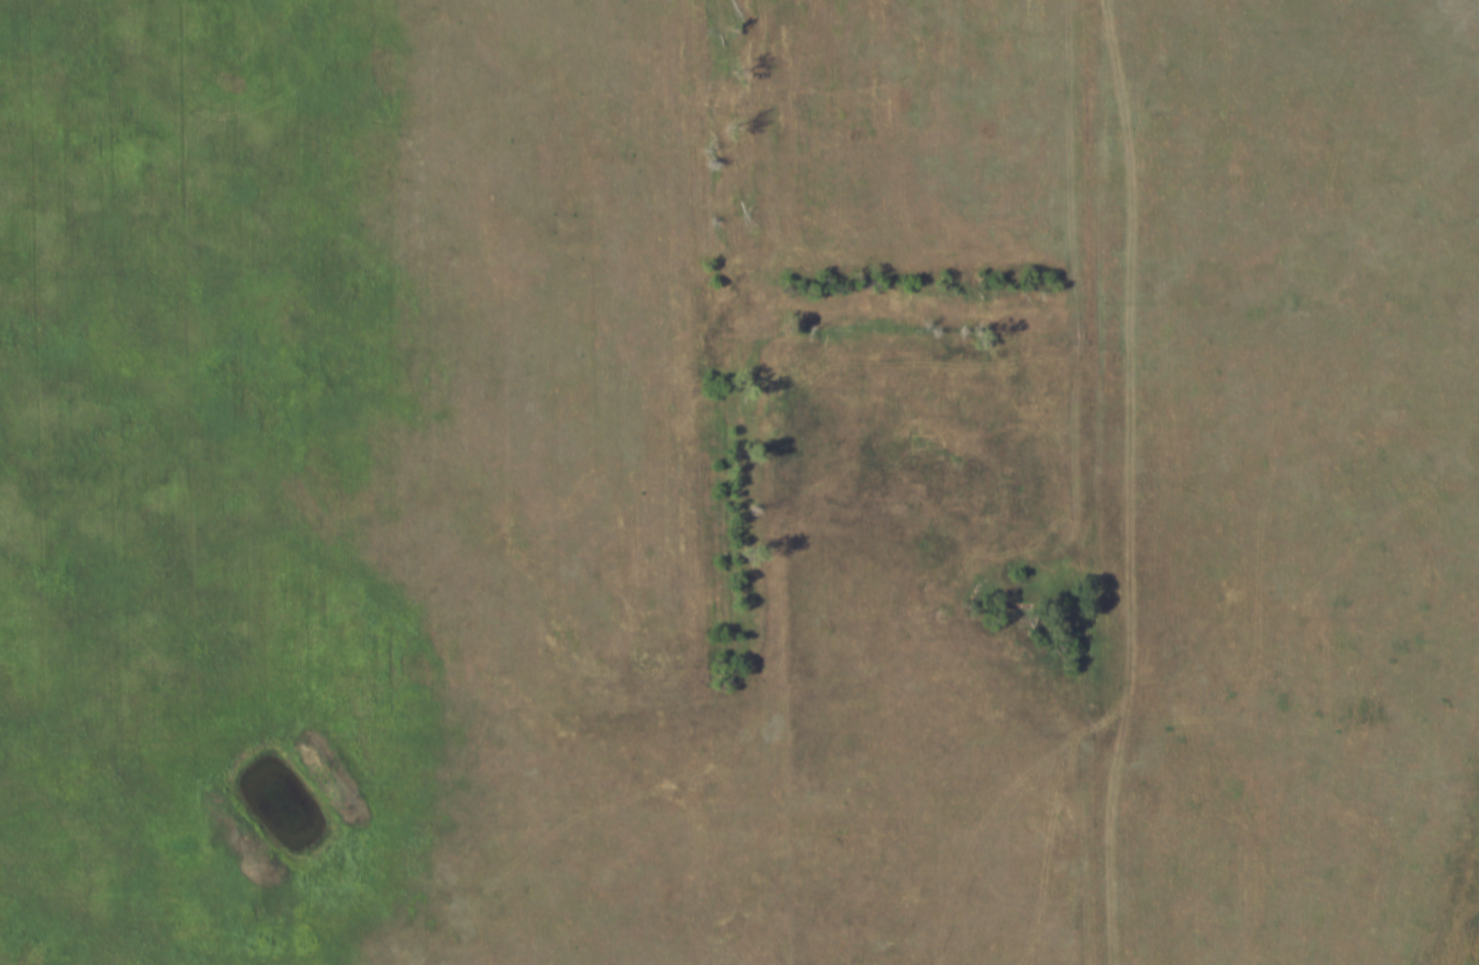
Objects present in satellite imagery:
road: (1130, 483)

